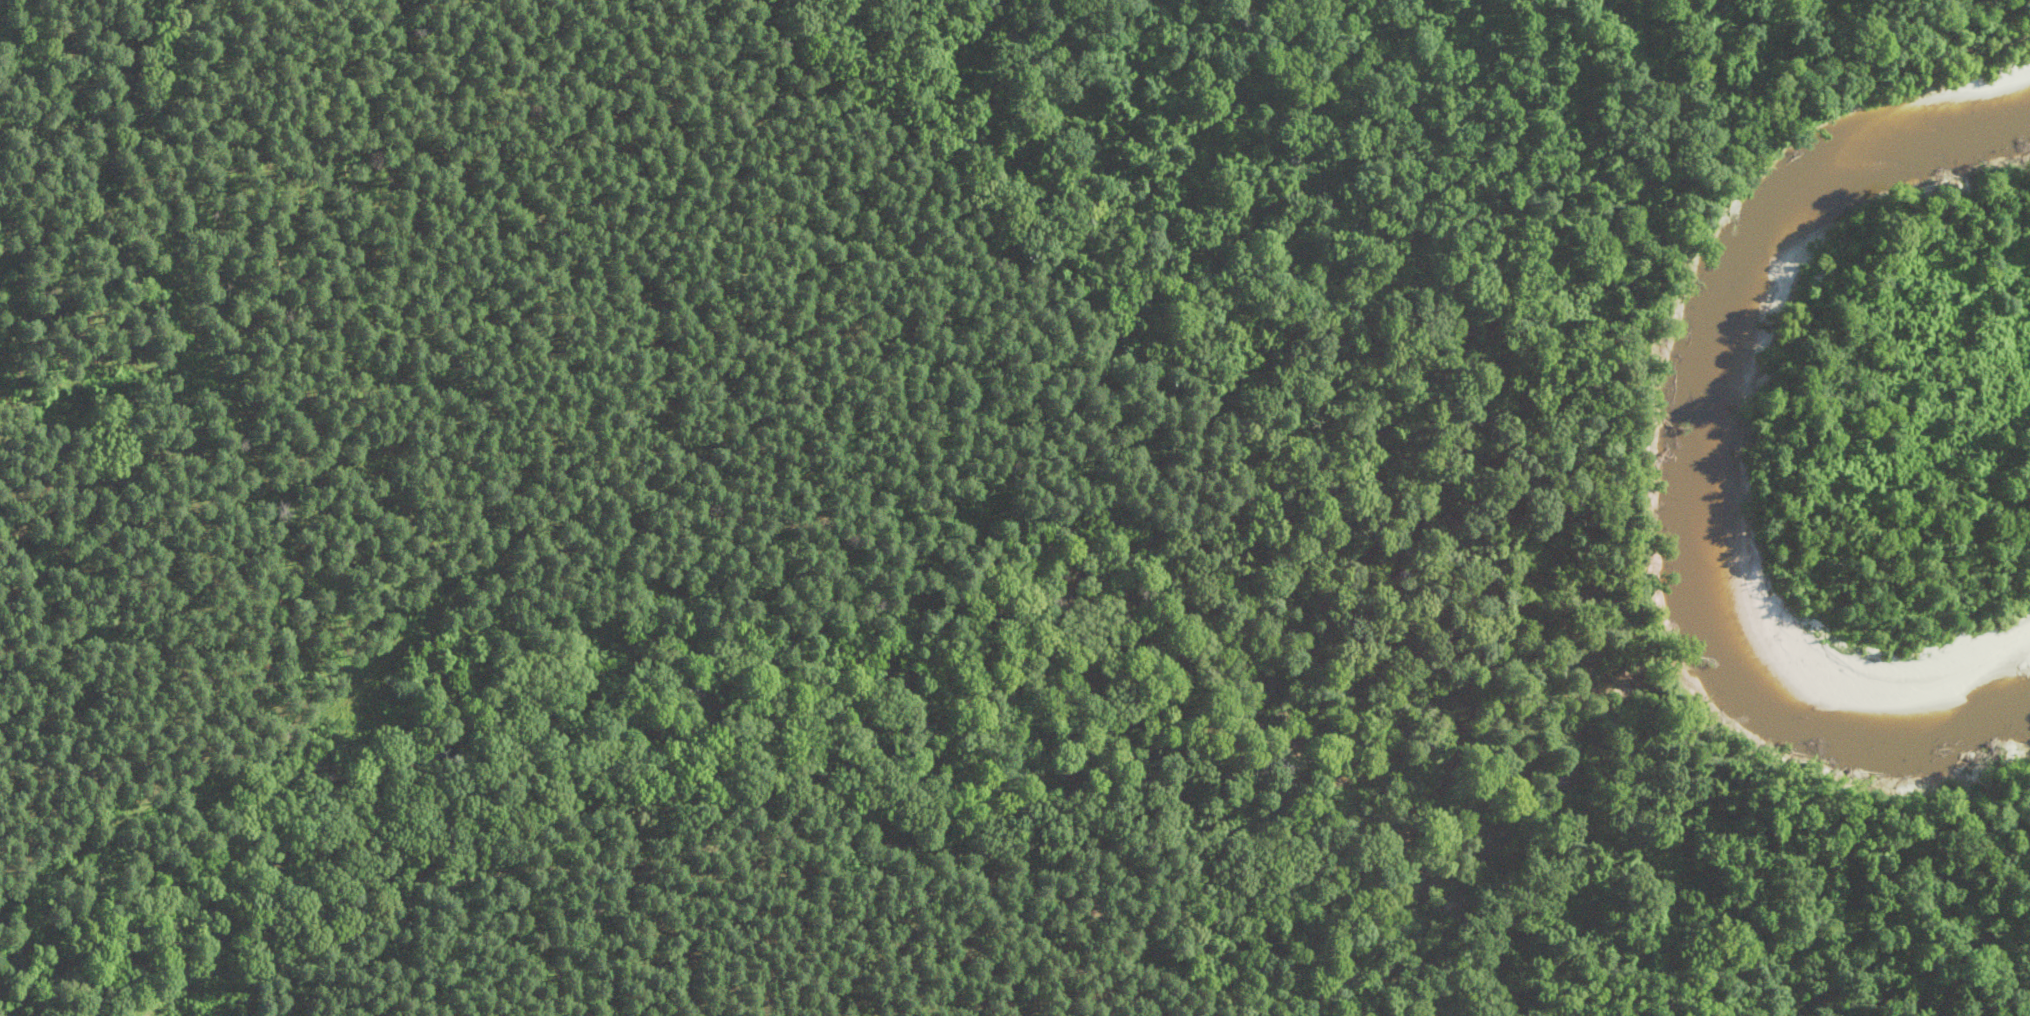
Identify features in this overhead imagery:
river: (1699, 435)

